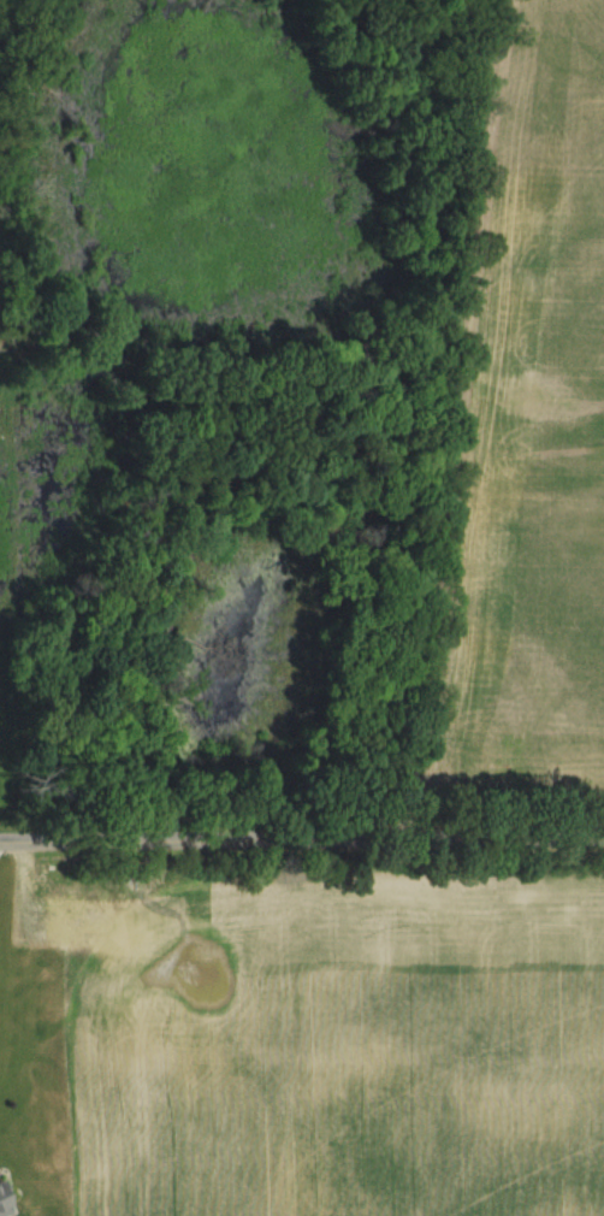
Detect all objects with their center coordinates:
road: (302, 837)
crop: (333, 1035)

